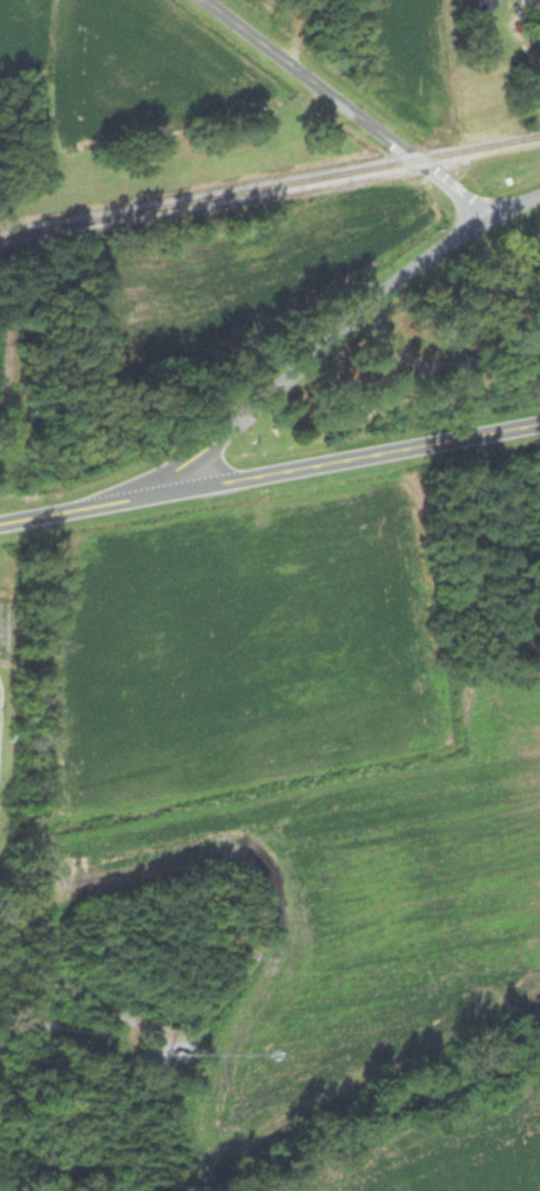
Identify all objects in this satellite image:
road: (338, 107)
railway: (270, 187)
road: (515, 202)
building: (497, 261)
road: (314, 345)
road: (440, 364)
road: (344, 458)
road: (74, 507)

